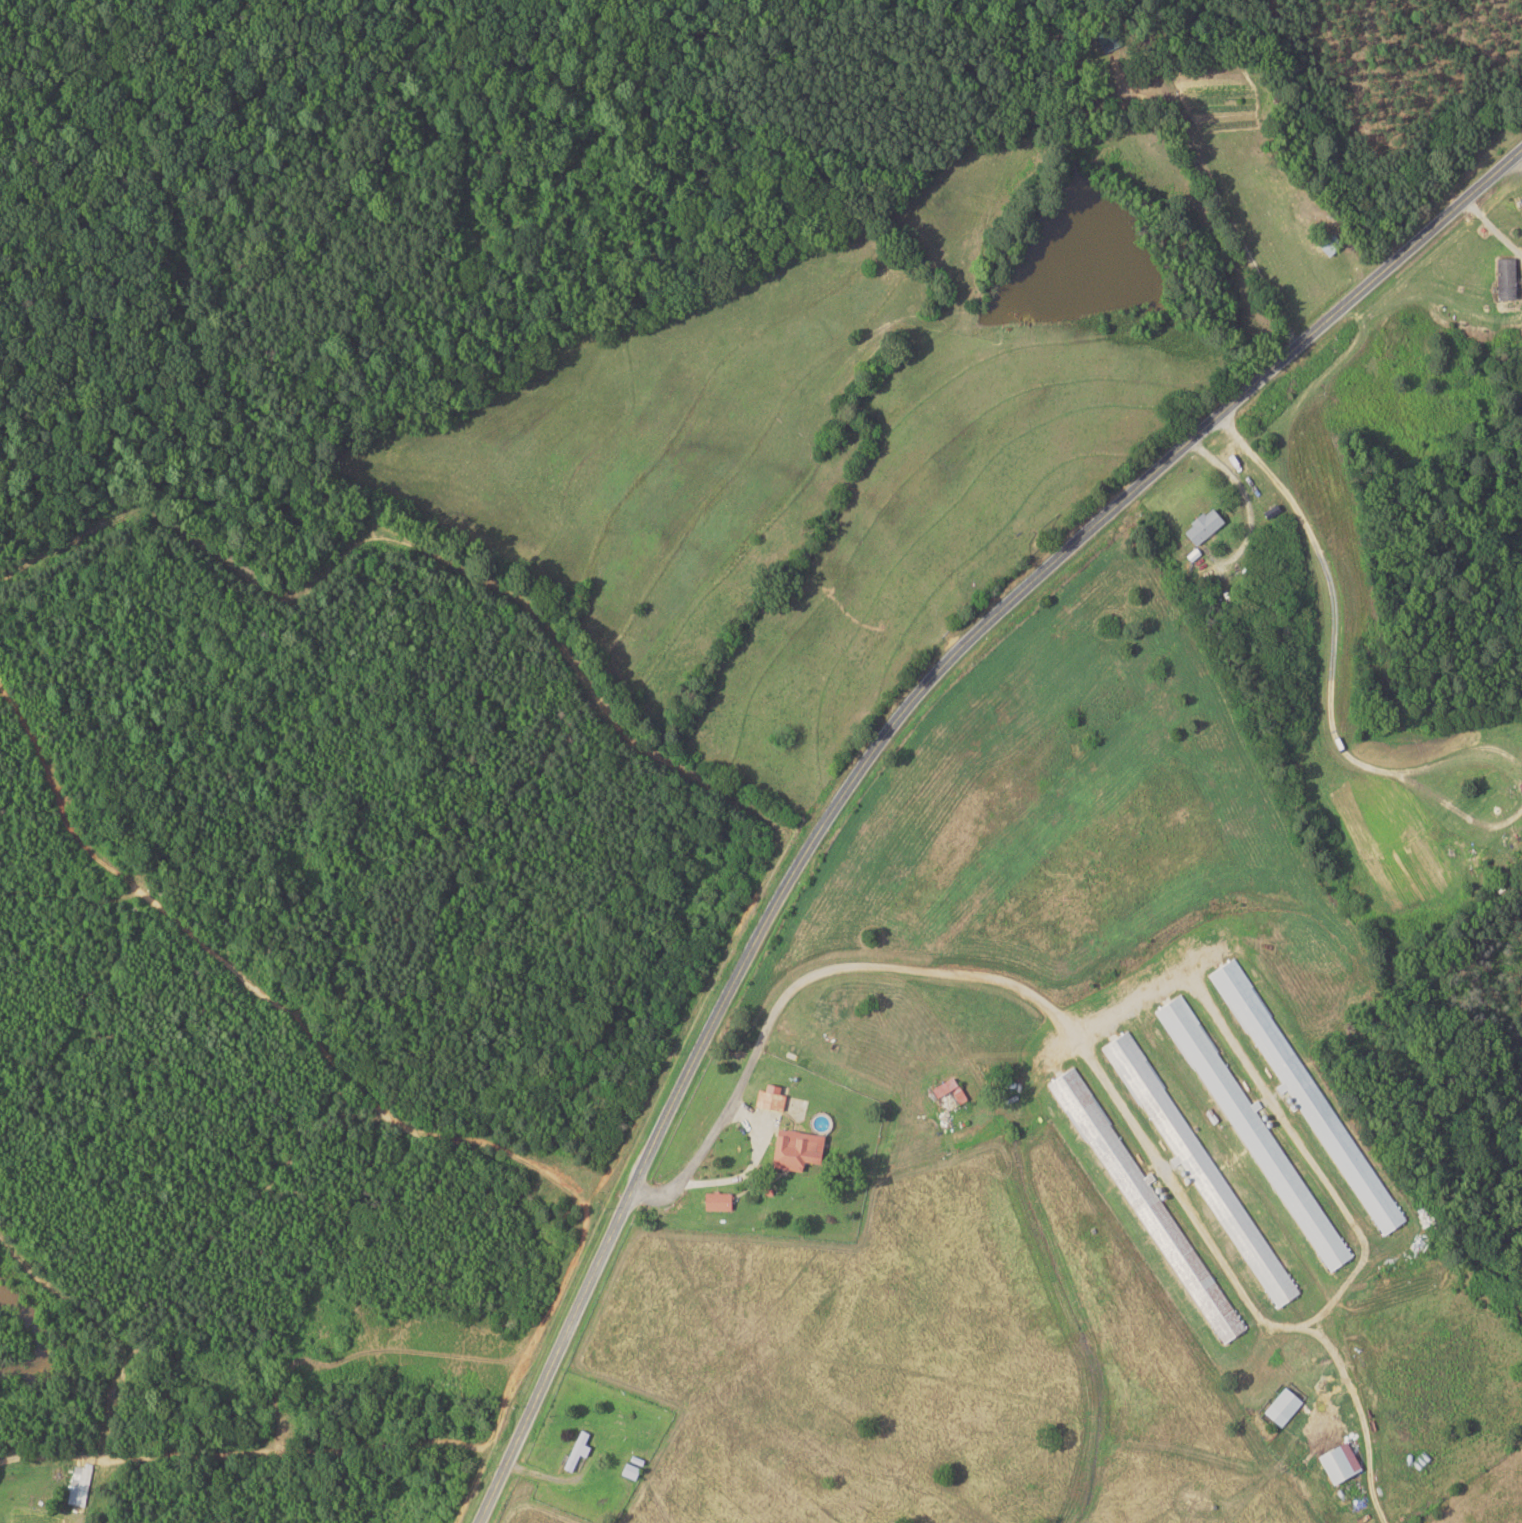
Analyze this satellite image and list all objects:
building: (1502, 278)
road: (1477, 284)
building: (1199, 526)
road: (877, 742)
building: (1300, 1088)
building: (946, 1094)
building: (767, 1099)
building: (1256, 1140)
road: (756, 1149)
building: (791, 1149)
building: (1192, 1159)
building: (714, 1201)
building: (1150, 1215)
building: (1279, 1406)
building: (574, 1450)
building: (1334, 1461)
building: (627, 1470)
building: (77, 1485)

